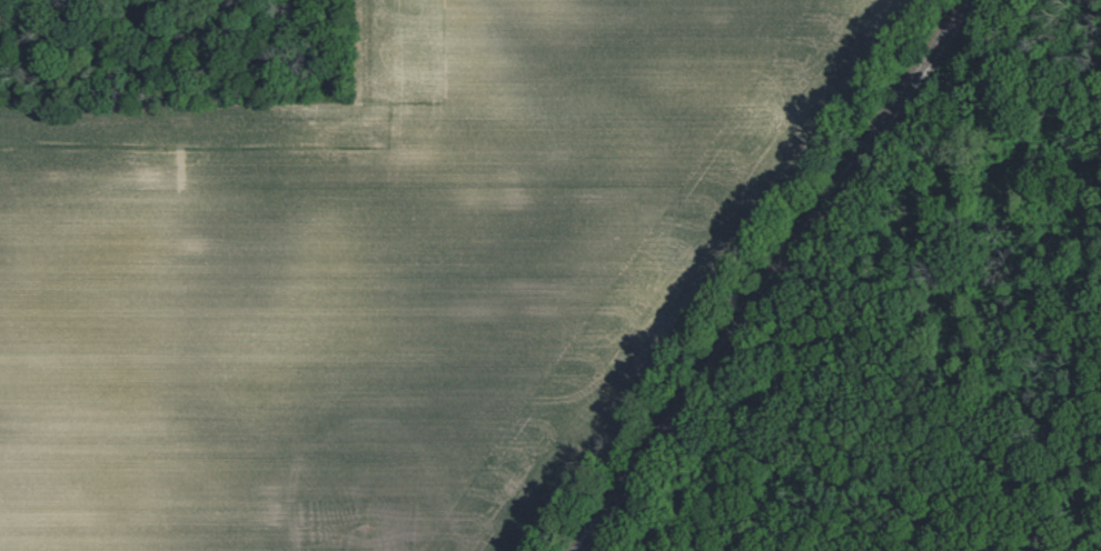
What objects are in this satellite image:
railway: (776, 275)

